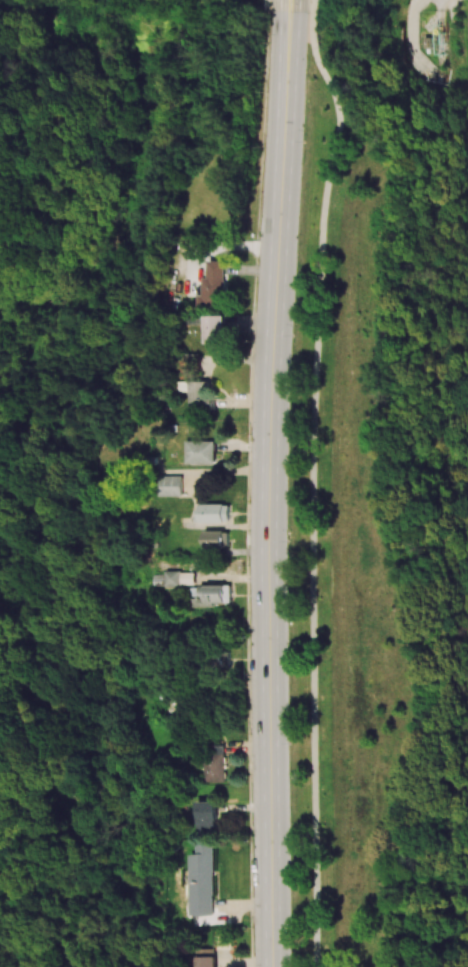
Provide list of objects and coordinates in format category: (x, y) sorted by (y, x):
road: (292, 7)
road: (316, 7)
road: (440, 8)
road: (331, 80)
building: (214, 286)
building: (215, 332)
building: (200, 394)
building: (201, 452)
building: (171, 486)
road: (269, 490)
building: (214, 513)
building: (217, 539)
road: (314, 555)
building: (157, 578)
building: (179, 578)
building: (210, 595)
building: (221, 658)
park: (393, 696)
building: (216, 763)
building: (208, 815)
building: (202, 880)
building: (205, 958)

